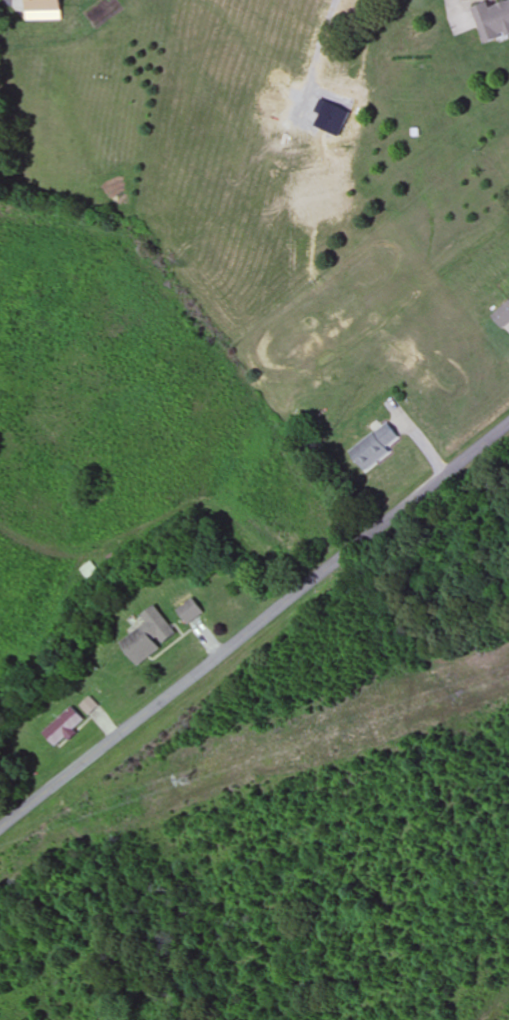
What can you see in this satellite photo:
building: (44, 10)
building: (493, 21)
building: (503, 316)
building: (375, 447)
building: (190, 612)
road: (254, 626)
building: (149, 637)
building: (88, 706)
building: (64, 727)

